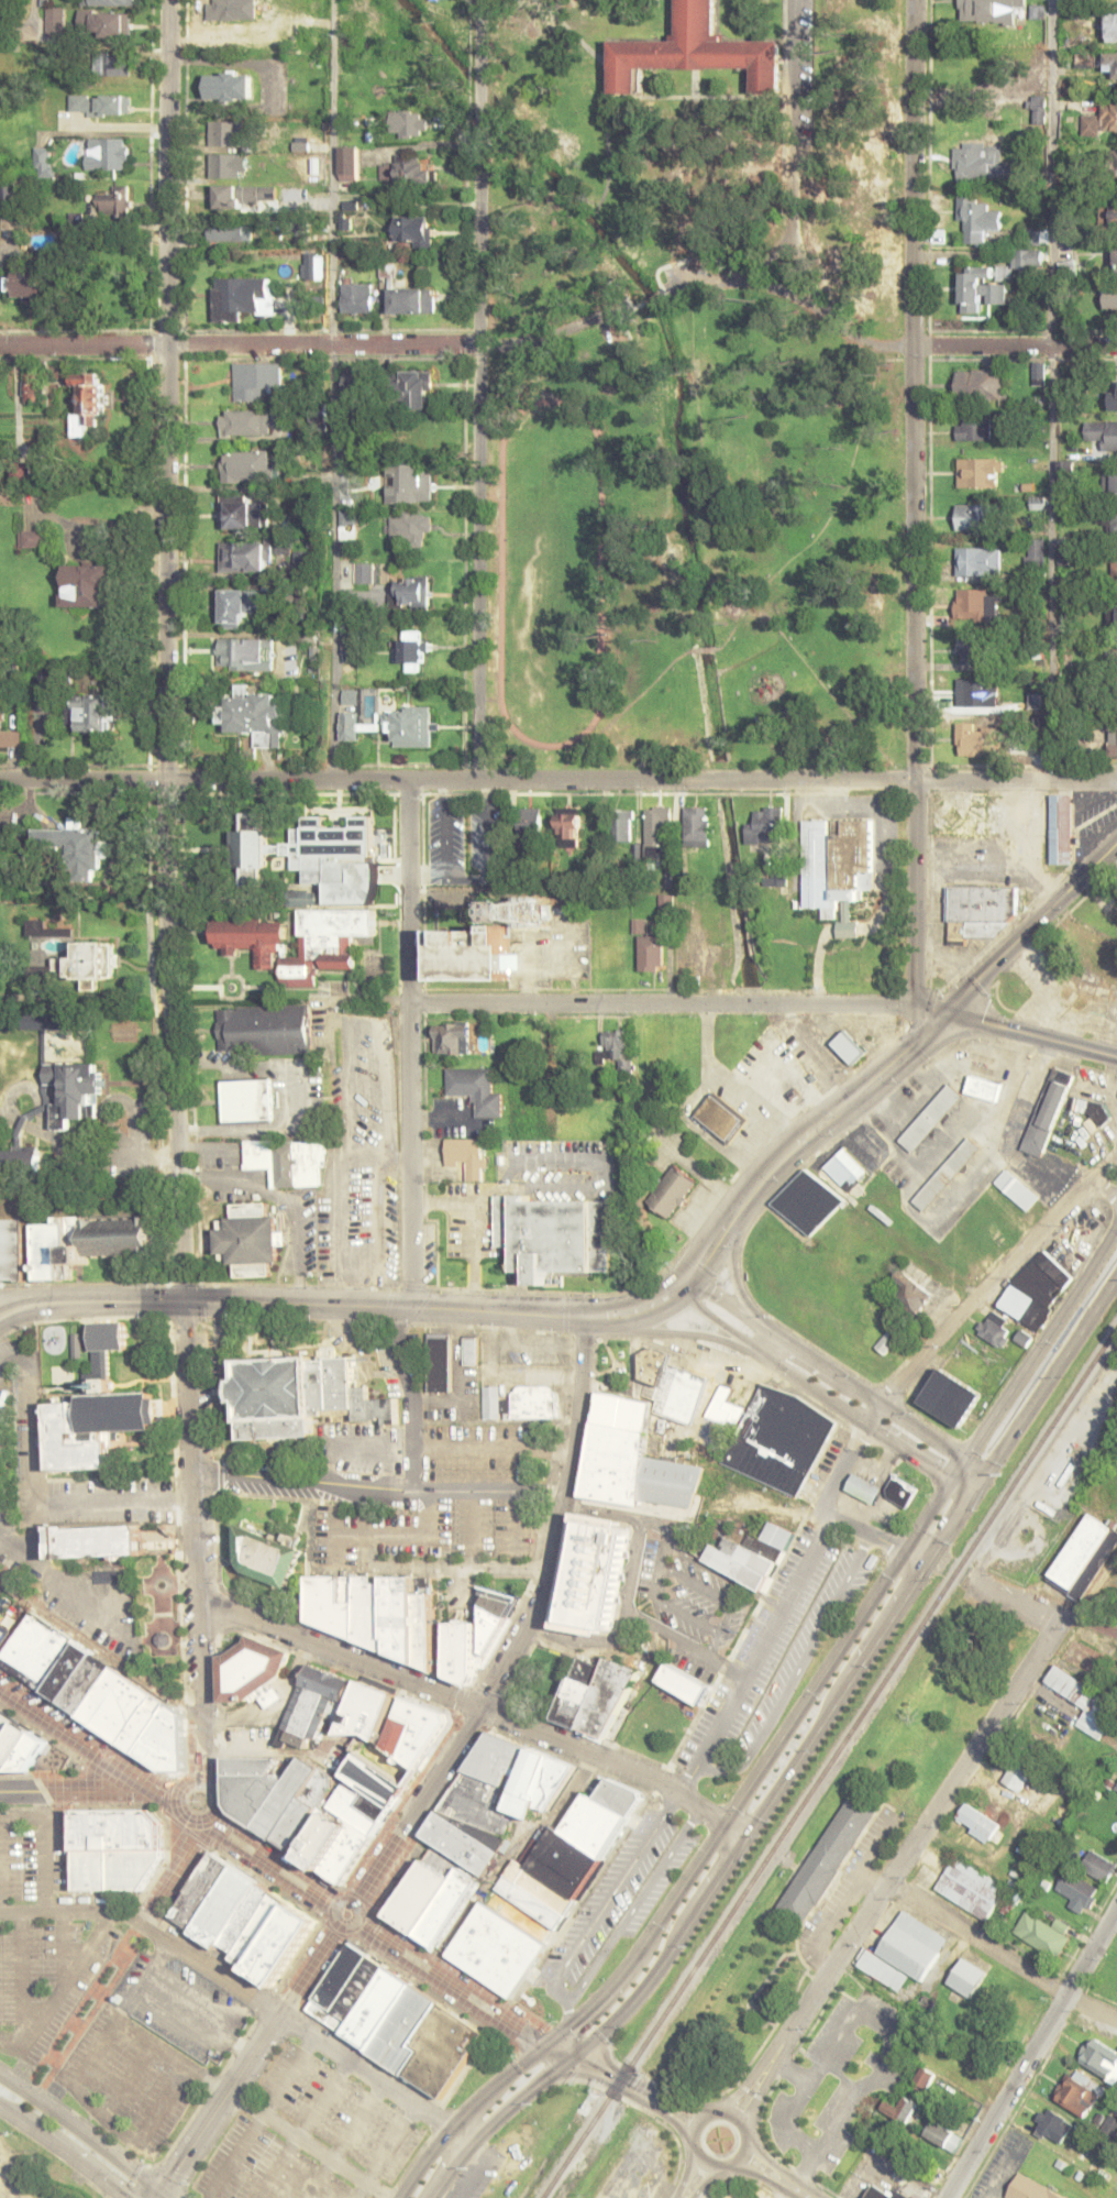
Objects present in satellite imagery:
building: (111, 2)
building: (989, 10)
building: (231, 11)
building: (55, 20)
building: (104, 23)
building: (1110, 25)
building: (695, 51)
building: (113, 65)
building: (1110, 66)
building: (229, 86)
building: (113, 103)
building: (1040, 112)
building: (1102, 120)
building: (409, 123)
building: (224, 133)
building: (108, 153)
building: (43, 161)
building: (349, 162)
building: (980, 163)
building: (225, 165)
building: (1115, 165)
building: (408, 171)
building: (12, 188)
building: (243, 195)
building: (114, 201)
building: (1114, 215)
building: (978, 218)
building: (413, 230)
building: (229, 231)
building: (1028, 260)
building: (1115, 260)
building: (387, 271)
building: (31, 284)
building: (985, 286)
road: (653, 292)
building: (242, 296)
building: (356, 297)
building: (1110, 298)
building: (411, 300)
road: (882, 343)
road: (327, 345)
building: (255, 380)
building: (351, 380)
building: (982, 384)
building: (32, 387)
road: (165, 389)
road: (332, 389)
building: (416, 389)
road: (478, 389)
road: (1051, 391)
building: (1113, 395)
building: (89, 403)
building: (245, 422)
building: (973, 429)
building: (1103, 433)
building: (246, 465)
building: (980, 472)
building: (1113, 480)
building: (408, 483)
building: (239, 513)
road: (915, 513)
road: (829, 515)
building: (975, 516)
building: (1108, 519)
building: (347, 525)
building: (410, 528)
building: (30, 538)
park: (697, 542)
building: (1035, 553)
road: (734, 556)
building: (244, 557)
building: (978, 561)
building: (1114, 565)
building: (357, 571)
building: (86, 584)
building: (413, 591)
building: (969, 602)
building: (236, 607)
building: (1113, 614)
building: (413, 648)
building: (973, 648)
road: (705, 649)
building: (239, 653)
building: (1116, 660)
building: (976, 692)
road: (598, 706)
road: (621, 710)
building: (93, 712)
building: (254, 716)
building: (350, 725)
building: (408, 725)
building: (10, 736)
building: (973, 739)
building: (1113, 744)
road: (457, 779)
road: (1016, 782)
building: (529, 821)
building: (622, 824)
building: (765, 825)
building: (568, 826)
building: (695, 826)
building: (1061, 828)
building: (656, 833)
building: (78, 847)
road: (421, 850)
building: (313, 855)
building: (836, 869)
building: (303, 897)
building: (664, 903)
building: (978, 912)
building: (49, 926)
road: (1030, 926)
building: (299, 941)
building: (650, 952)
building: (473, 954)
building: (88, 963)
road: (231, 963)
road: (527, 970)
fountain: (231, 986)
road: (195, 987)
road: (285, 987)
road: (237, 998)
road: (676, 1003)
traffic signals: (945, 1011)
building: (44, 1020)
building: (263, 1029)
road: (1031, 1032)
building: (452, 1037)
road: (408, 1042)
building: (848, 1047)
building: (617, 1048)
building: (983, 1088)
building: (476, 1089)
building: (73, 1091)
road: (549, 1091)
building: (246, 1100)
building: (34, 1112)
building: (1047, 1112)
building: (719, 1117)
building: (931, 1118)
road: (807, 1135)
building: (11, 1155)
building: (468, 1155)
building: (287, 1162)
building: (845, 1169)
building: (948, 1174)
building: (1016, 1189)
building: (671, 1190)
building: (808, 1201)
building: (554, 1234)
building: (60, 1237)
building: (248, 1239)
road: (995, 1276)
road: (736, 1282)
road: (183, 1285)
building: (1036, 1289)
building: (910, 1292)
road: (44, 1296)
road: (20, 1297)
traffic signals: (184, 1300)
road: (395, 1304)
road: (44, 1311)
road: (719, 1323)
building: (993, 1328)
road: (696, 1334)
building: (884, 1344)
building: (77, 1345)
building: (469, 1350)
road: (777, 1350)
building: (103, 1353)
building: (439, 1361)
building: (650, 1367)
road: (839, 1376)
building: (275, 1397)
building: (945, 1397)
building: (520, 1402)
building: (718, 1405)
road: (872, 1415)
building: (96, 1428)
road: (869, 1428)
building: (778, 1440)
building: (616, 1448)
road: (842, 1465)
road: (379, 1486)
building: (863, 1487)
building: (1110, 1488)
building: (900, 1491)
gas station: (900, 1491)
road: (873, 1535)
building: (95, 1540)
building: (751, 1554)
building: (267, 1556)
building: (1083, 1556)
building: (591, 1573)
fountain: (161, 1583)
building: (1, 1593)
building: (377, 1612)
road: (1039, 1612)
building: (1, 1616)
park: (157, 1623)
building: (477, 1634)
road: (523, 1638)
road: (101, 1655)
road: (760, 1655)
building: (250, 1669)
park: (540, 1678)
building: (682, 1683)
building: (97, 1693)
building: (595, 1694)
building: (316, 1700)
building: (1083, 1701)
road: (478, 1708)
building: (367, 1710)
road: (999, 1716)
building: (412, 1730)
road: (784, 1733)
building: (18, 1745)
road: (87, 1752)
road: (798, 1759)
railway: (830, 1763)
building: (1015, 1772)
road: (71, 1789)
building: (1115, 1790)
railway: (818, 1793)
road: (179, 1798)
building: (495, 1798)
building: (312, 1806)
building: (976, 1822)
building: (114, 1848)
road: (508, 1857)
building: (827, 1857)
building: (1097, 1866)
road: (278, 1870)
road: (166, 1880)
building: (970, 1888)
building: (542, 1889)
building: (1076, 1891)
building: (430, 1898)
parking lot: (616, 1900)
building: (242, 1917)
building: (1041, 1932)
building: (904, 1950)
road: (1000, 1955)
road: (834, 1965)
road: (311, 1966)
building: (965, 1977)
road: (246, 1996)
road: (491, 2013)
building: (394, 2019)
traffic signals: (543, 2047)
road: (1032, 2052)
building: (1098, 2059)
traffic signals: (569, 2062)
building: (924, 2077)
road: (749, 2079)
road: (761, 2087)
building: (1079, 2092)
road: (676, 2103)
road: (210, 2104)
road: (251, 2108)
building: (899, 2109)
road: (223, 2110)
road: (668, 2120)
building: (1051, 2125)
building: (1109, 2125)
road: (744, 2129)
building: (942, 2135)
road: (80, 2136)
road: (59, 2153)
road: (766, 2161)
road: (685, 2175)
road: (756, 2176)
road: (705, 2181)
building: (1029, 2189)
building: (898, 2190)
road: (795, 2191)
traffic signals: (154, 2192)
traffic signals: (161, 2197)

